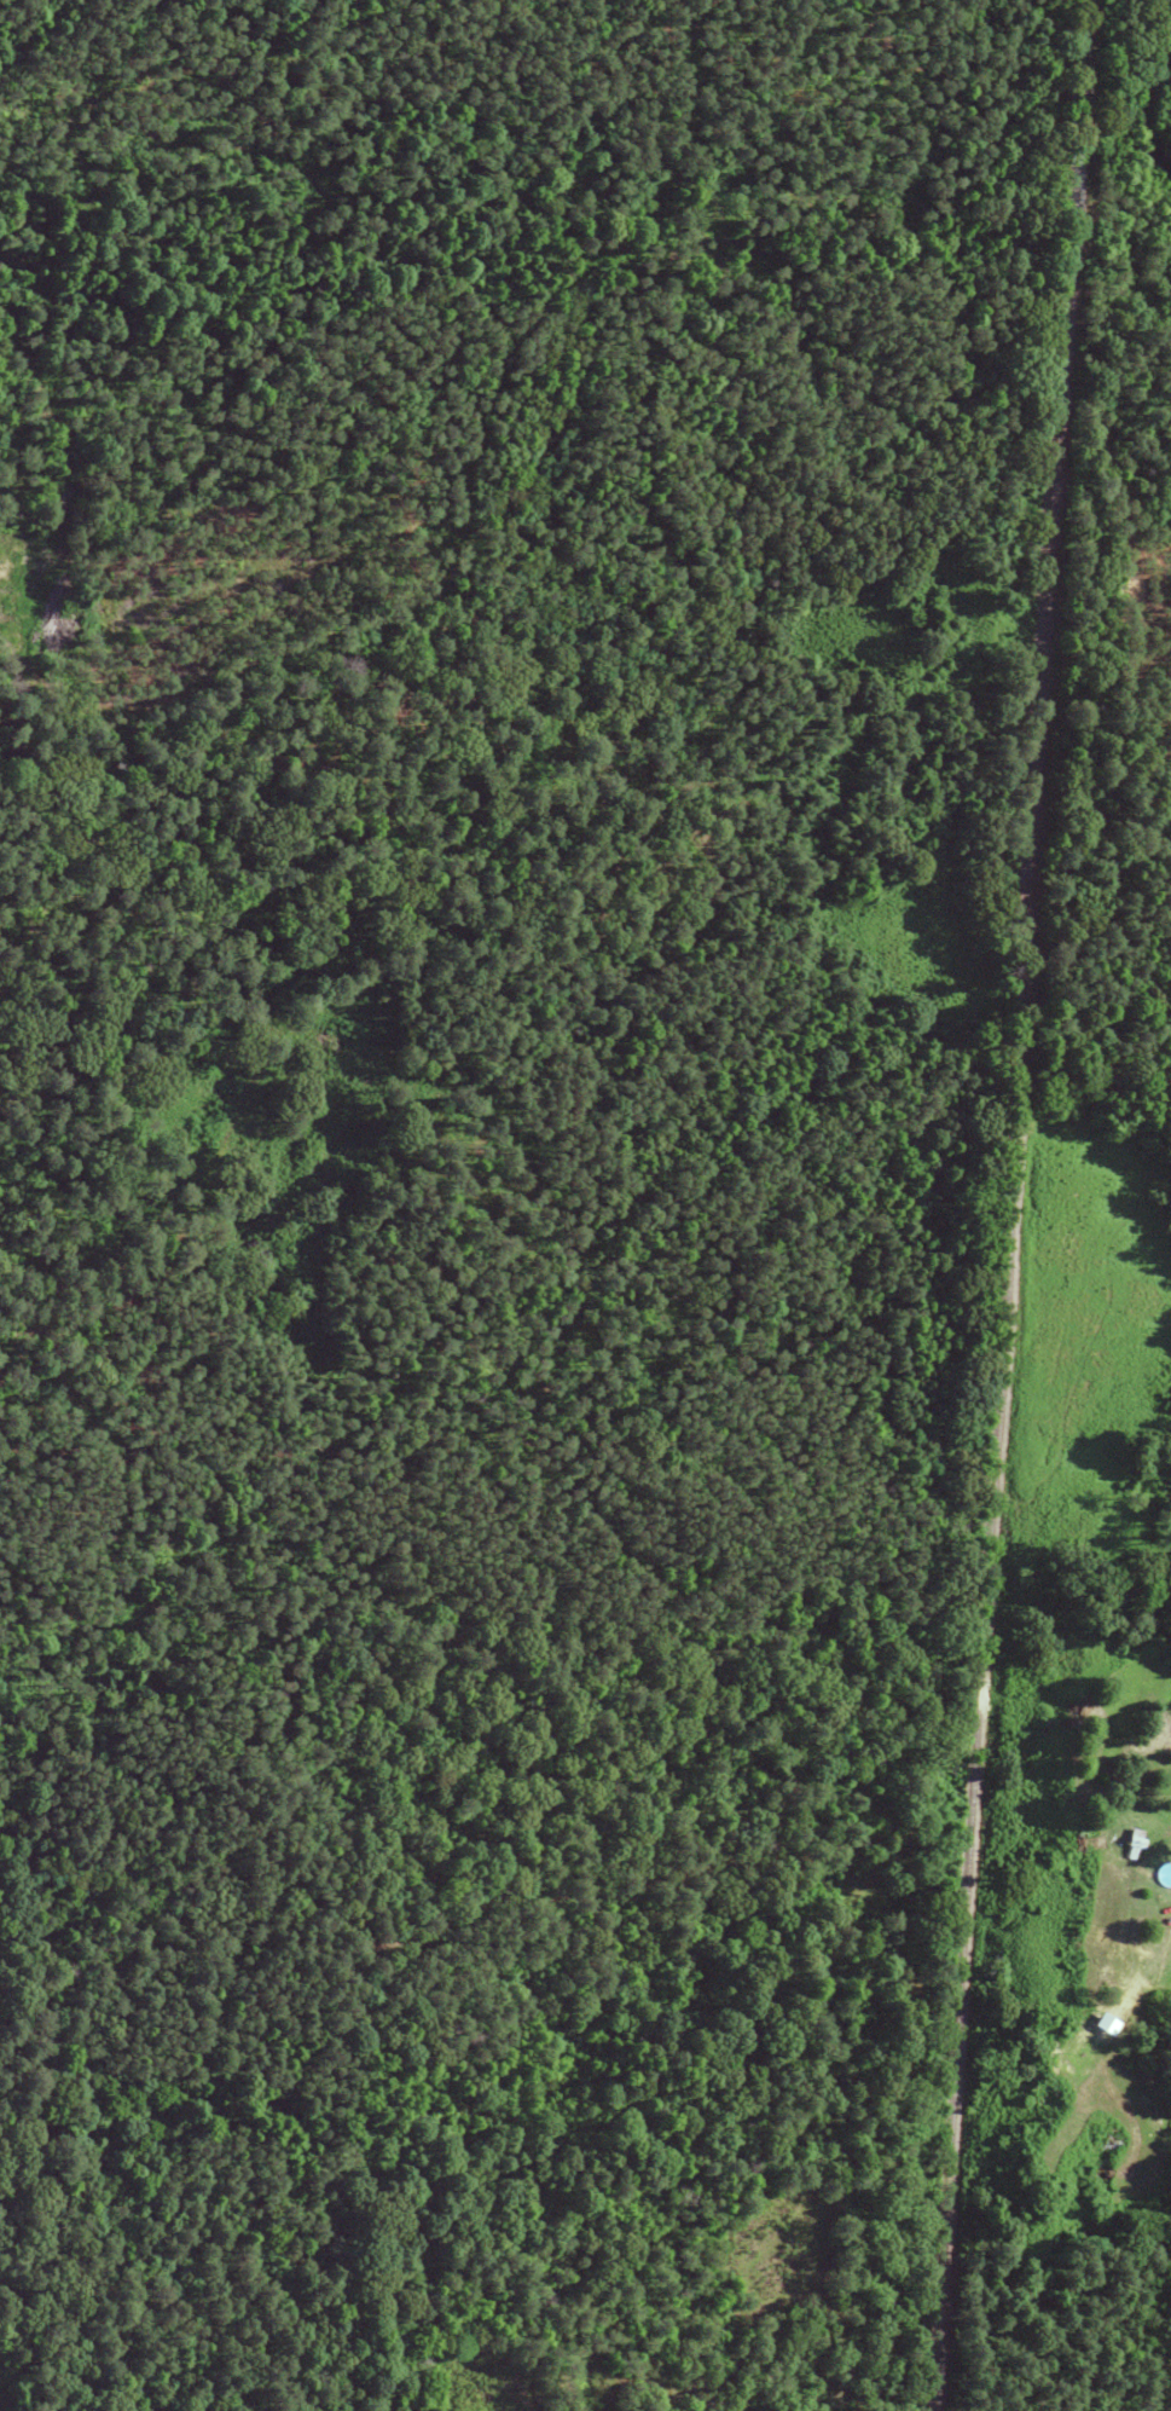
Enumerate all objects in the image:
road: (1149, 958)
park: (446, 988)
railway: (1022, 1205)
building: (1130, 1842)

